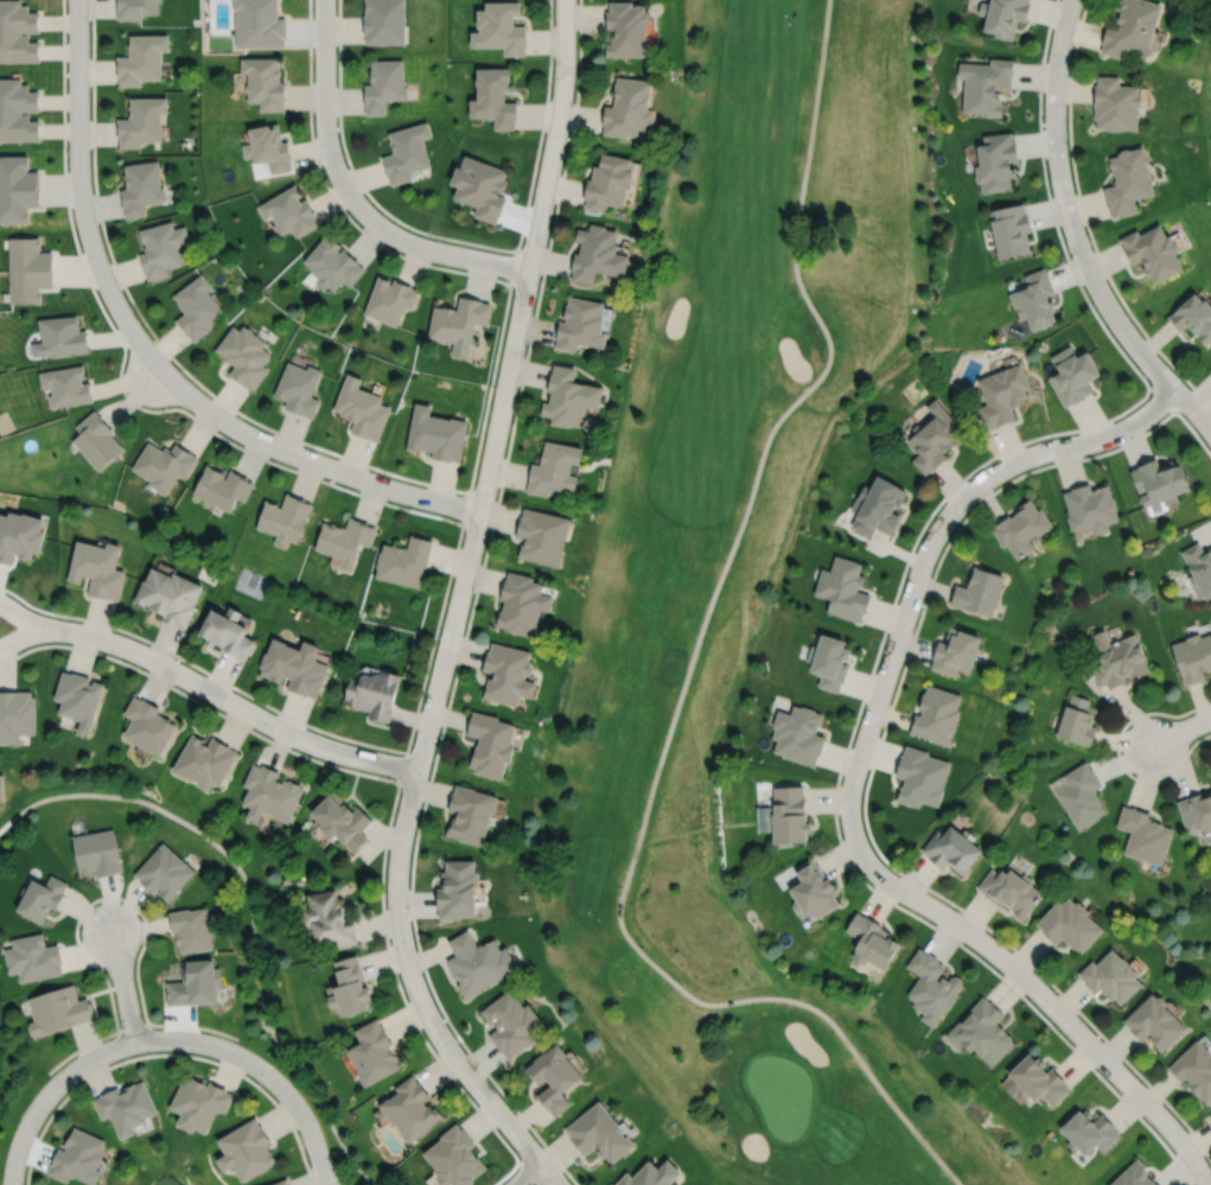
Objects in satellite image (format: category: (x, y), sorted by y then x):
building: (135, 8)
building: (1002, 17)
building: (382, 21)
building: (259, 24)
building: (498, 28)
building: (1130, 28)
building: (626, 31)
building: (18, 32)
building: (141, 56)
building: (264, 79)
building: (983, 85)
building: (382, 87)
building: (492, 100)
building: (1115, 101)
building: (627, 104)
building: (18, 108)
park: (1205, 110)
building: (141, 119)
building: (268, 145)
building: (404, 153)
building: (996, 159)
road: (78, 176)
building: (1127, 178)
building: (607, 179)
building: (141, 185)
building: (18, 186)
building: (477, 189)
road: (349, 195)
building: (289, 210)
road: (1085, 222)
building: (1011, 228)
road: (1075, 235)
road: (461, 240)
building: (161, 246)
building: (1152, 249)
building: (597, 251)
building: (332, 262)
building: (28, 267)
road: (512, 267)
building: (390, 298)
building: (1034, 298)
building: (196, 305)
building: (1193, 316)
building: (460, 321)
building: (580, 323)
building: (59, 335)
building: (244, 353)
building: (1073, 374)
building: (65, 384)
building: (299, 387)
building: (1001, 393)
building: (567, 395)
road: (1161, 395)
building: (362, 407)
building: (589, 422)
building: (438, 433)
building: (933, 437)
building: (96, 439)
road: (293, 453)
building: (162, 464)
building: (553, 469)
building: (1158, 479)
road: (425, 482)
building: (222, 486)
building: (877, 505)
building: (1089, 507)
road: (465, 508)
road: (414, 510)
building: (285, 517)
building: (1020, 527)
building: (19, 535)
building: (541, 535)
building: (345, 539)
building: (404, 560)
building: (97, 568)
building: (1199, 568)
building: (842, 587)
park: (740, 590)
road: (897, 590)
building: (977, 591)
building: (170, 595)
road: (457, 601)
building: (522, 603)
road: (19, 616)
road: (469, 616)
building: (228, 632)
road: (19, 636)
building: (954, 651)
building: (1192, 657)
building: (1116, 660)
building: (828, 662)
building: (294, 667)
building: (509, 674)
road: (686, 674)
building: (375, 694)
building: (78, 699)
road: (227, 699)
building: (935, 714)
building: (15, 715)
building: (1077, 721)
building: (148, 726)
road: (1180, 731)
building: (797, 734)
building: (491, 744)
road: (1117, 754)
road: (873, 757)
building: (204, 762)
road: (402, 766)
building: (920, 777)
road: (389, 778)
building: (0, 785)
road: (849, 785)
building: (270, 794)
building: (1081, 796)
building: (785, 813)
building: (1197, 813)
building: (471, 815)
building: (342, 821)
building: (1145, 836)
building: (952, 850)
building: (96, 853)
building: (164, 872)
building: (810, 886)
building: (458, 891)
building: (1009, 891)
road: (107, 896)
building: (40, 899)
road: (249, 905)
building: (325, 916)
building: (1070, 926)
building: (190, 930)
building: (869, 938)
building: (31, 955)
building: (474, 960)
building: (1108, 974)
road: (122, 985)
building: (346, 985)
building: (929, 985)
building: (195, 986)
building: (55, 1007)
building: (1152, 1019)
building: (509, 1020)
road: (130, 1027)
building: (980, 1028)
building: (370, 1050)
road: (167, 1053)
building: (1193, 1068)
road: (261, 1069)
building: (550, 1075)
building: (1033, 1078)
road: (47, 1092)
building: (197, 1101)
building: (123, 1104)
building: (408, 1107)
building: (1088, 1129)
building: (597, 1130)
building: (244, 1147)
building: (76, 1155)
building: (452, 1155)
road: (527, 1168)
building: (648, 1173)
road: (528, 1174)
road: (549, 1174)
building: (1133, 1174)
building: (279, 1181)

